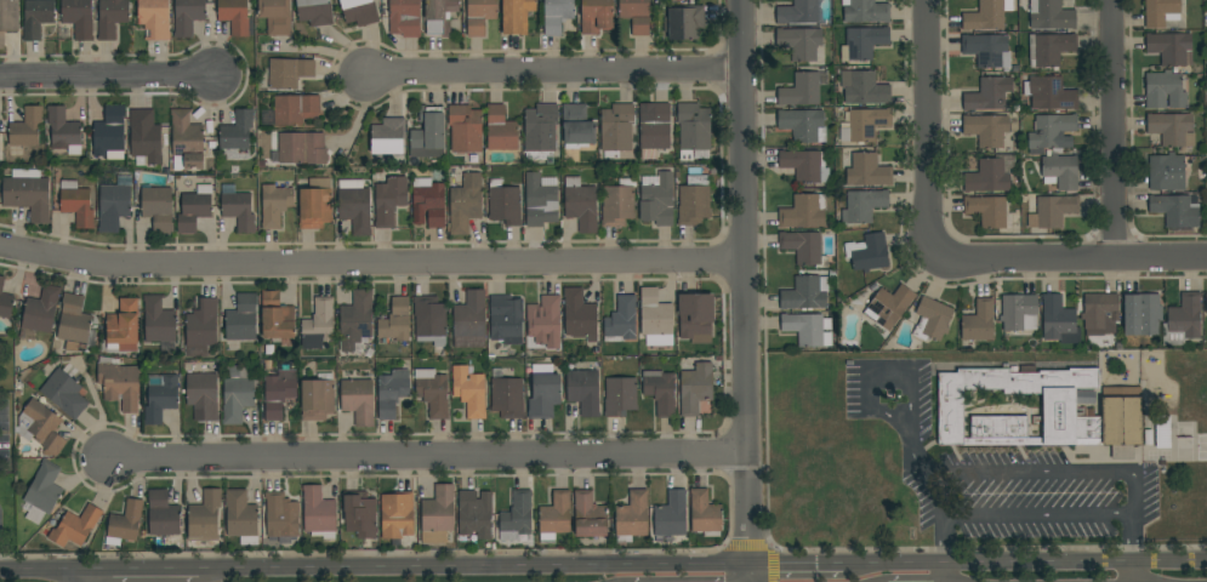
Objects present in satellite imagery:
building: (865, 11)
building: (314, 12)
building: (359, 12)
building: (798, 12)
building: (1161, 12)
building: (479, 15)
building: (636, 15)
building: (986, 15)
building: (1048, 15)
building: (187, 16)
building: (234, 16)
building: (275, 16)
building: (439, 16)
building: (516, 16)
building: (557, 16)
building: (596, 16)
building: (36, 17)
building: (110, 17)
building: (404, 17)
building: (7, 18)
building: (78, 18)
building: (154, 18)
building: (685, 23)
building: (865, 41)
building: (799, 42)
building: (1049, 48)
building: (1171, 48)
building: (987, 50)
building: (289, 73)
road: (554, 74)
road: (107, 78)
building: (864, 89)
building: (1165, 90)
building: (801, 91)
building: (1049, 93)
building: (989, 95)
building: (295, 109)
building: (865, 124)
building: (803, 125)
building: (577, 126)
building: (25, 127)
building: (465, 129)
building: (653, 129)
building: (1172, 129)
building: (63, 130)
building: (501, 130)
building: (541, 130)
building: (616, 130)
road: (927, 130)
building: (986, 130)
road: (1114, 130)
building: (237, 131)
building: (693, 131)
building: (1052, 131)
building: (109, 132)
building: (146, 136)
building: (388, 136)
building: (428, 136)
building: (186, 142)
building: (302, 148)
building: (805, 166)
building: (867, 171)
building: (1060, 171)
building: (1165, 171)
building: (990, 175)
building: (27, 194)
building: (389, 200)
building: (540, 201)
building: (659, 201)
building: (694, 201)
building: (428, 202)
building: (76, 204)
building: (315, 204)
building: (465, 204)
building: (503, 204)
building: (581, 204)
building: (619, 204)
building: (274, 205)
building: (113, 206)
building: (354, 206)
building: (862, 206)
building: (158, 209)
building: (194, 209)
building: (1175, 210)
building: (239, 211)
building: (804, 211)
building: (986, 211)
building: (1053, 211)
building: (804, 247)
building: (867, 252)
road: (1067, 259)
road: (371, 263)
road: (745, 283)
building: (805, 293)
building: (5, 302)
building: (1206, 303)
building: (888, 306)
building: (41, 309)
building: (1098, 309)
building: (1019, 313)
building: (579, 314)
building: (1141, 314)
building: (277, 316)
building: (655, 318)
building: (696, 318)
building: (241, 319)
building: (469, 319)
building: (506, 319)
building: (932, 319)
building: (355, 320)
building: (429, 320)
building: (621, 320)
building: (1183, 320)
building: (395, 321)
building: (543, 321)
building: (979, 321)
building: (1059, 321)
building: (74, 323)
building: (159, 324)
building: (318, 325)
building: (123, 326)
building: (201, 327)
building: (808, 329)
road: (878, 375)
building: (119, 383)
building: (695, 388)
building: (469, 390)
building: (583, 390)
building: (432, 392)
building: (660, 392)
building: (64, 393)
building: (238, 393)
building: (279, 393)
building: (392, 393)
building: (543, 393)
building: (203, 394)
building: (620, 395)
building: (506, 396)
building: (317, 398)
building: (161, 399)
building: (358, 400)
building: (1122, 406)
building: (41, 427)
park: (1202, 449)
road: (428, 457)
road: (929, 467)
parking lot: (1000, 474)
road: (1128, 489)
building: (42, 492)
building: (205, 510)
building: (318, 513)
building: (518, 513)
building: (163, 514)
building: (705, 514)
building: (279, 515)
building: (360, 515)
building: (397, 515)
building: (438, 515)
building: (471, 515)
building: (588, 515)
building: (671, 515)
building: (241, 517)
building: (554, 517)
building: (632, 517)
building: (125, 524)
building: (75, 526)
road: (1129, 537)
road: (943, 540)
road: (1074, 561)
road: (797, 564)
road: (893, 564)
road: (473, 567)
road: (143, 571)
road: (1131, 571)
road: (45, 572)
road: (943, 572)
road: (750, 574)
road: (90, 577)

